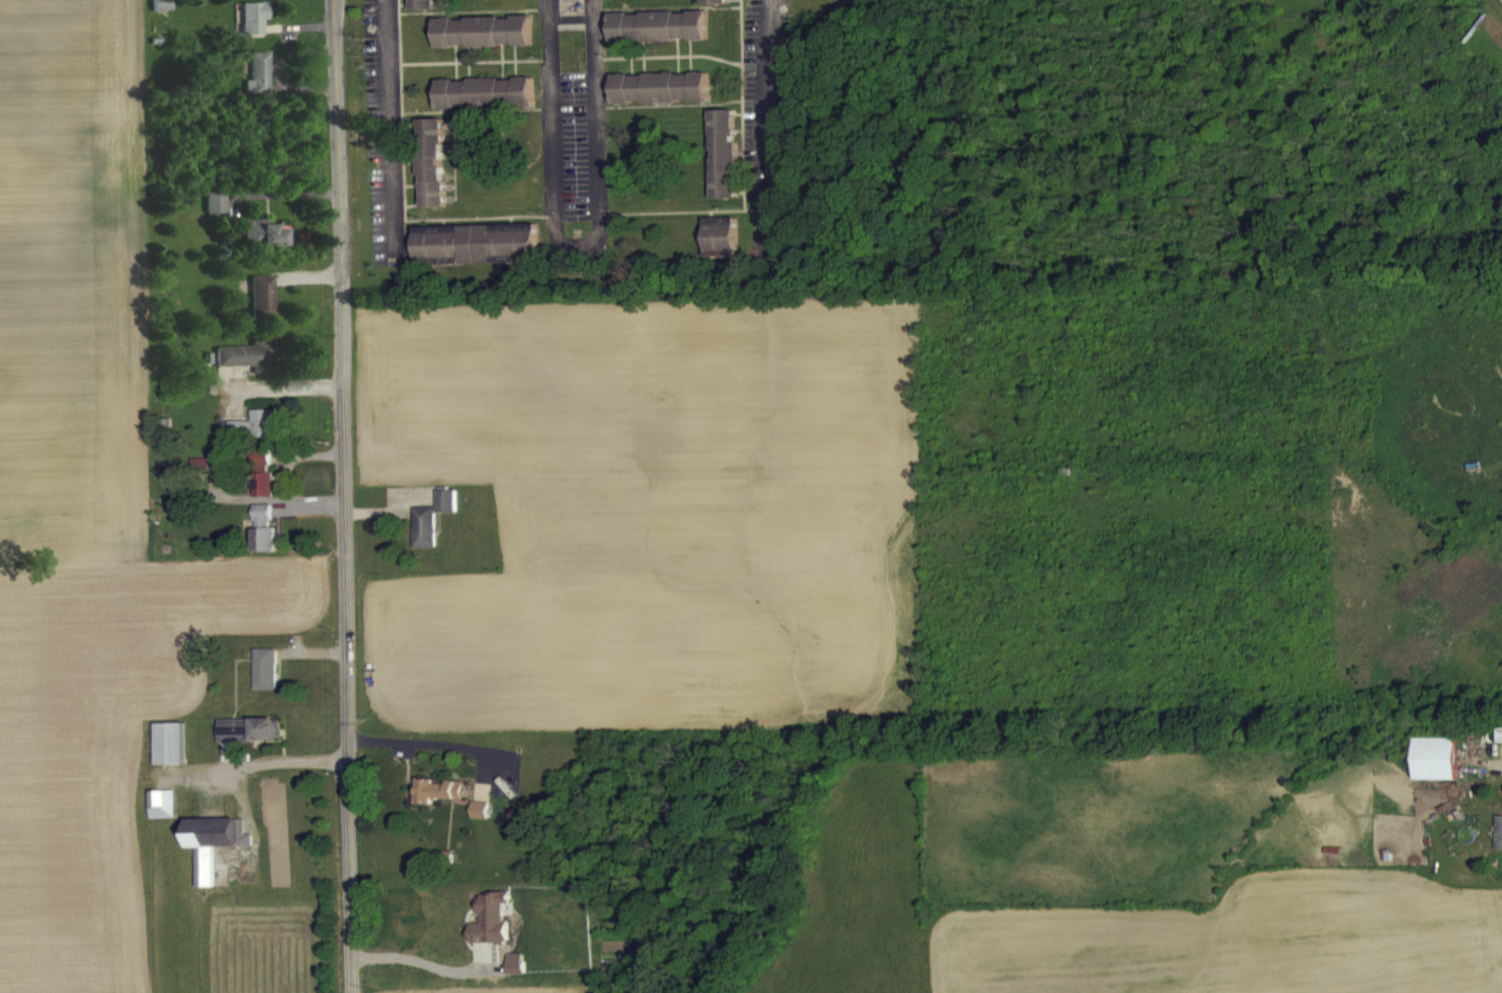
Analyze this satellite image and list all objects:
building: (713, 7)
building: (422, 10)
building: (159, 14)
building: (250, 28)
building: (658, 37)
building: (483, 42)
building: (256, 84)
building: (660, 99)
building: (485, 104)
road: (552, 114)
road: (596, 114)
road: (769, 125)
road: (393, 129)
building: (723, 165)
building: (432, 173)
building: (212, 213)
building: (258, 244)
road: (578, 245)
building: (721, 248)
building: (476, 253)
building: (259, 307)
building: (246, 367)
road: (278, 387)
building: (253, 436)
building: (217, 473)
building: (262, 485)
road: (342, 496)
building: (426, 535)
building: (262, 539)
building: (264, 680)
building: (249, 740)
road: (426, 743)
road: (268, 761)
building: (1435, 769)
building: (437, 801)
building: (480, 821)
building: (1498, 843)
building: (203, 872)
building: (491, 930)
road: (426, 962)
building: (516, 974)

